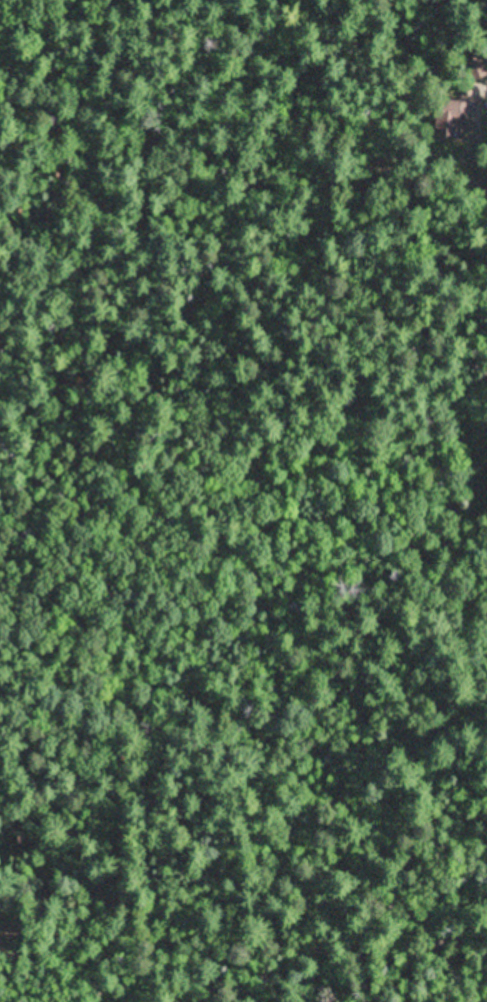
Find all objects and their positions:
building: (450, 117)

